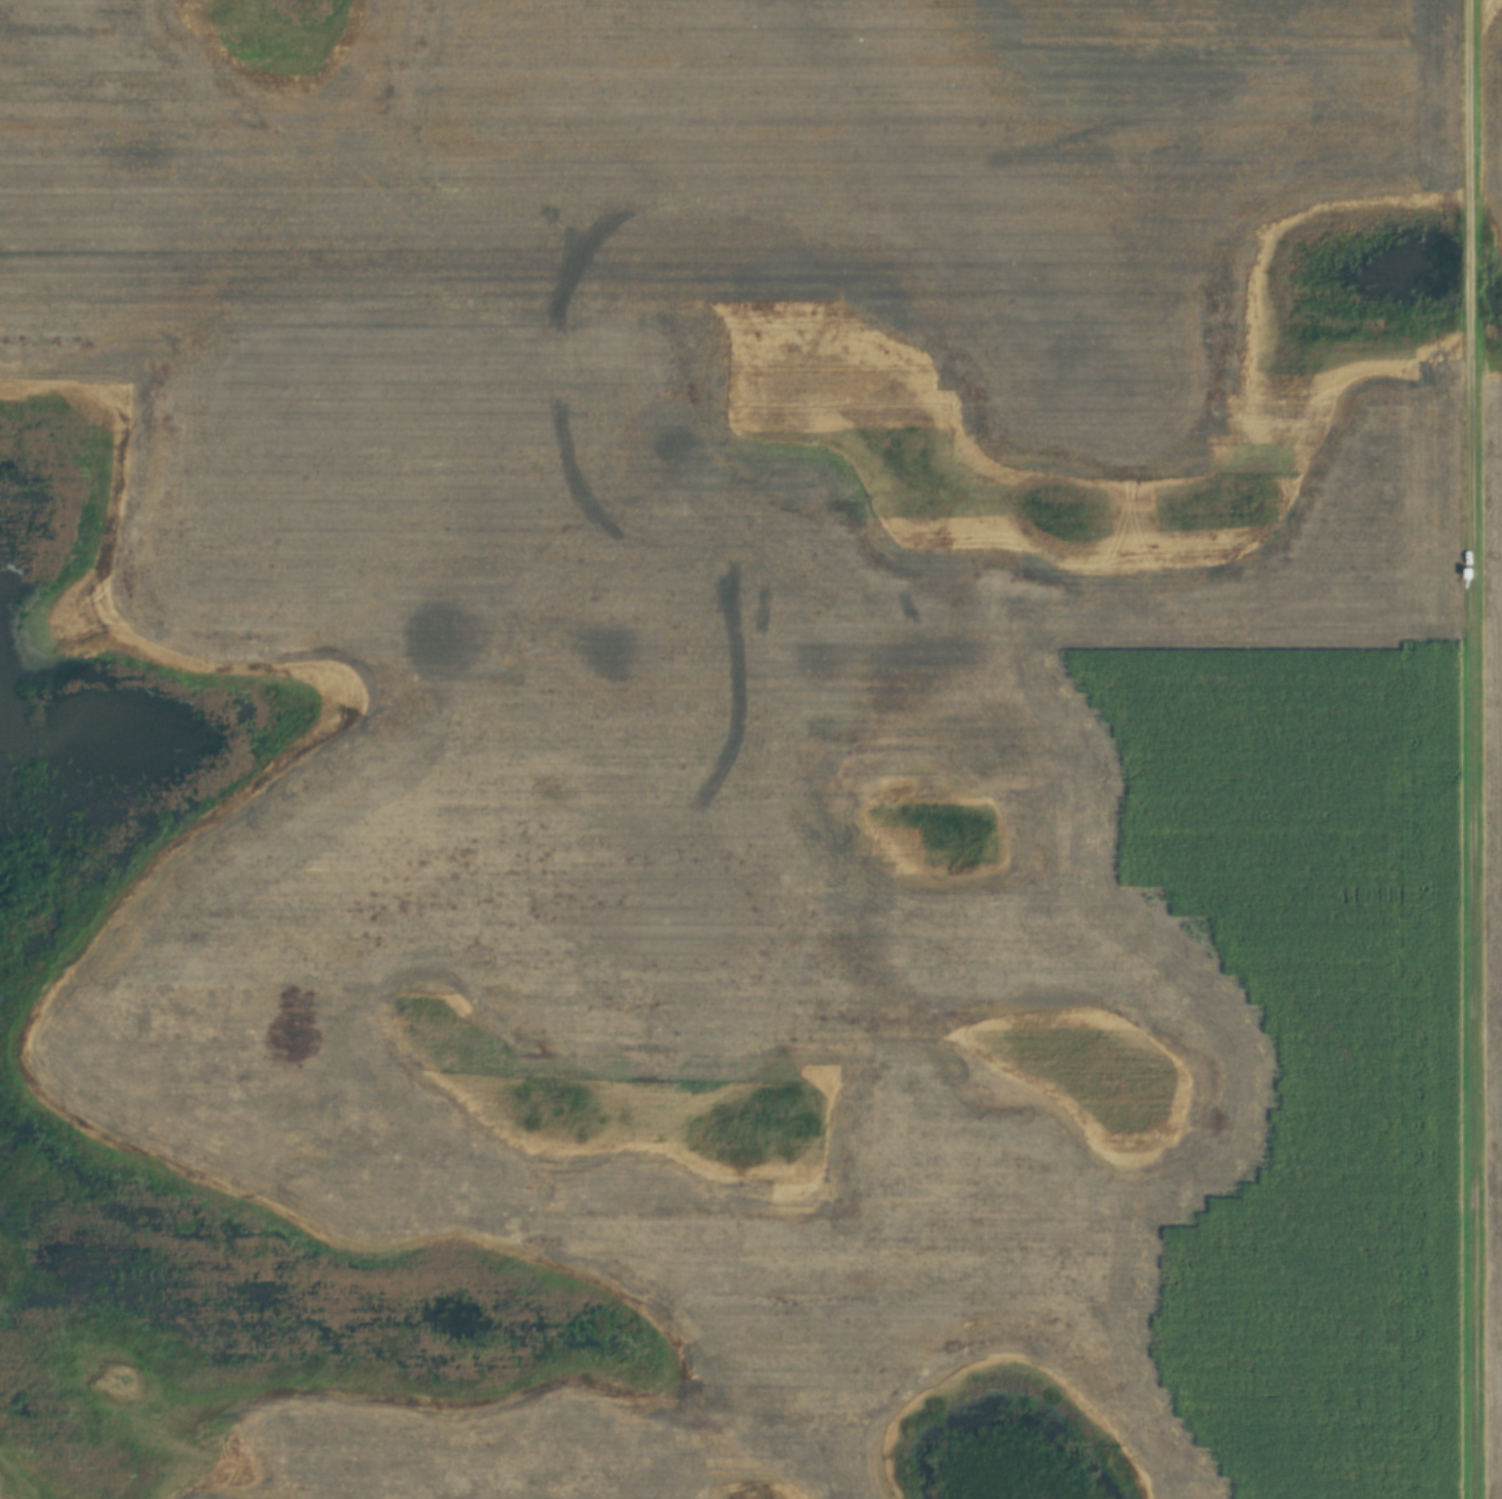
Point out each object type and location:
road: (1479, 749)

